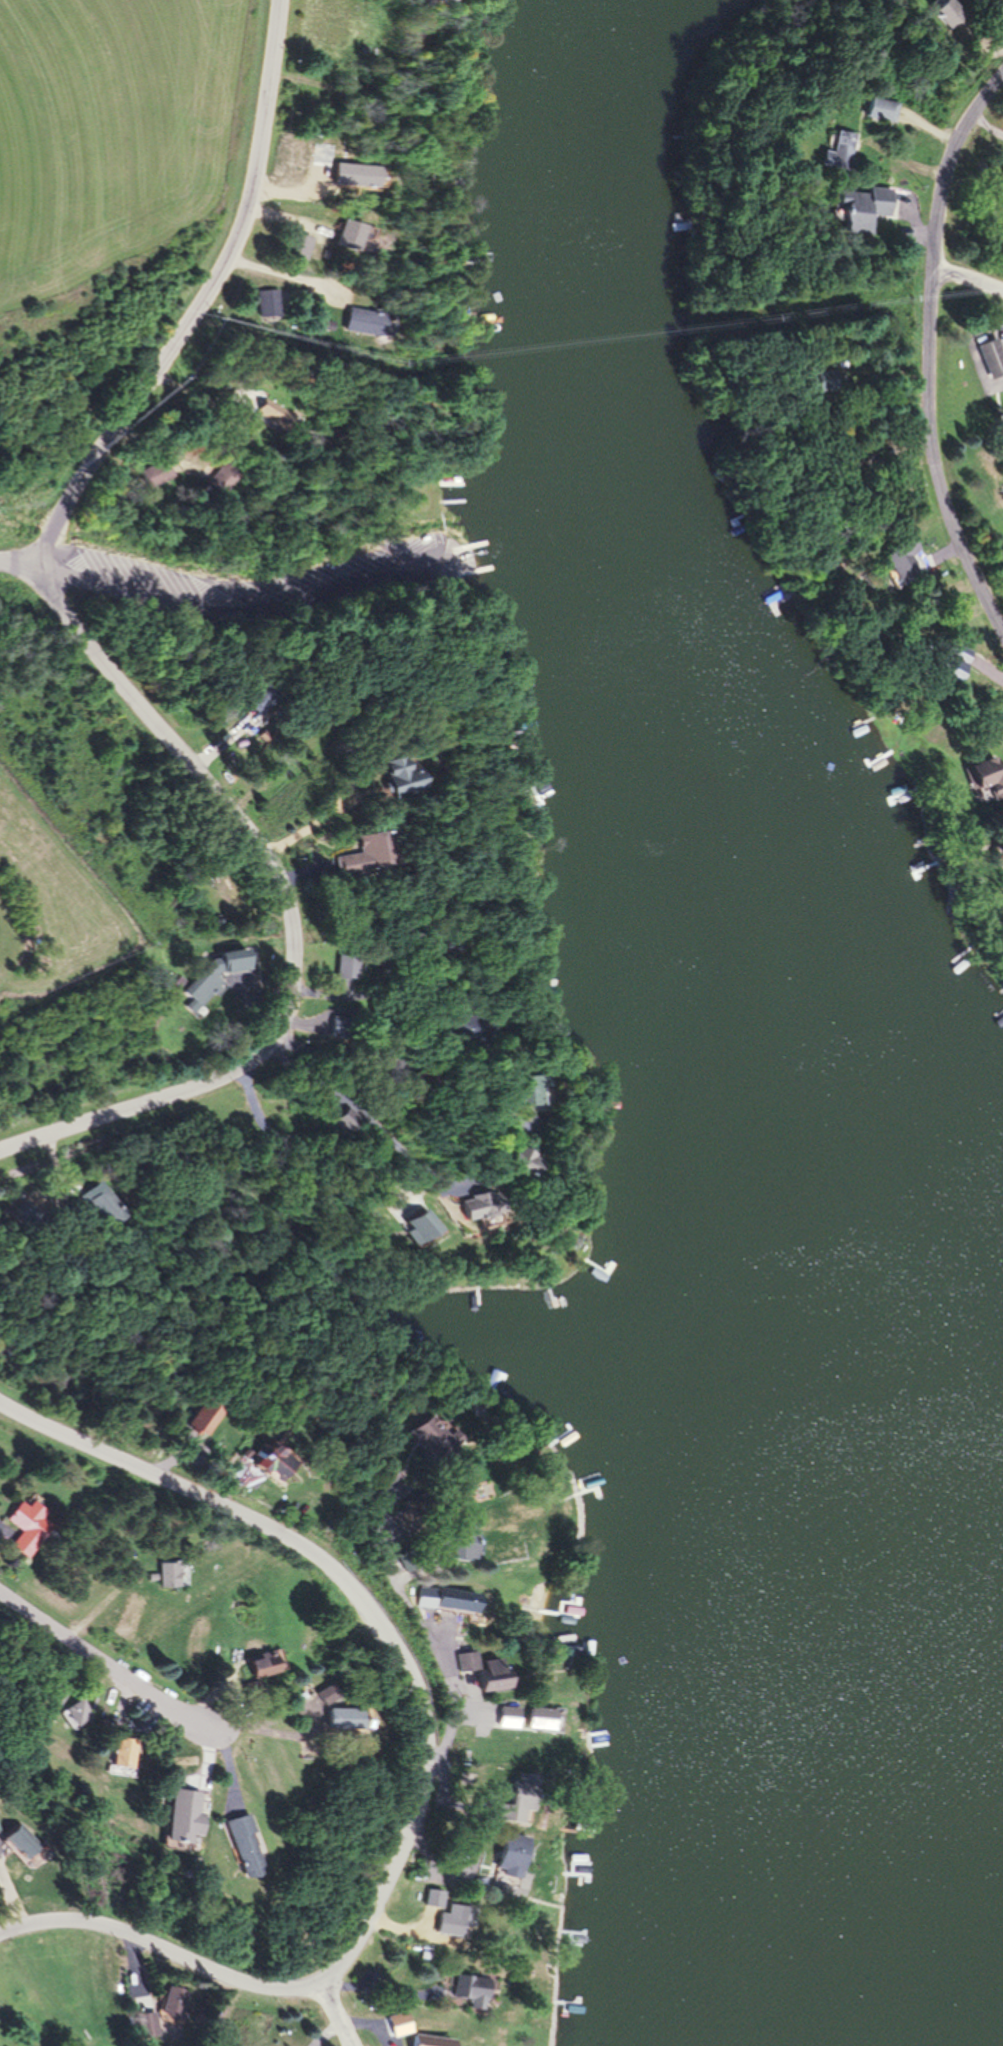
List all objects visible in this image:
building: (993, 2)
building: (943, 11)
building: (878, 109)
building: (838, 149)
building: (861, 208)
building: (350, 234)
road: (969, 279)
road: (204, 301)
building: (271, 307)
building: (365, 320)
road: (930, 349)
building: (992, 356)
building: (253, 405)
building: (1002, 446)
building: (223, 477)
building: (888, 569)
road: (236, 598)
building: (989, 775)
building: (399, 777)
building: (367, 854)
road: (288, 909)
building: (234, 960)
building: (348, 964)
building: (201, 989)
building: (468, 1027)
building: (344, 1028)
building: (344, 1115)
building: (106, 1206)
building: (475, 1206)
building: (419, 1228)
building: (496, 1380)
building: (199, 1418)
building: (431, 1439)
building: (561, 1442)
building: (267, 1463)
building: (28, 1528)
building: (165, 1575)
building: (449, 1600)
road: (95, 1658)
building: (264, 1666)
building: (491, 1675)
building: (76, 1715)
building: (505, 1717)
building: (344, 1720)
building: (536, 1720)
building: (124, 1754)
road: (427, 1758)
building: (521, 1792)
building: (245, 1849)
building: (509, 1861)
building: (456, 1921)
building: (468, 1986)
building: (163, 2011)
road: (337, 2014)
building: (397, 2022)
building: (428, 2040)

